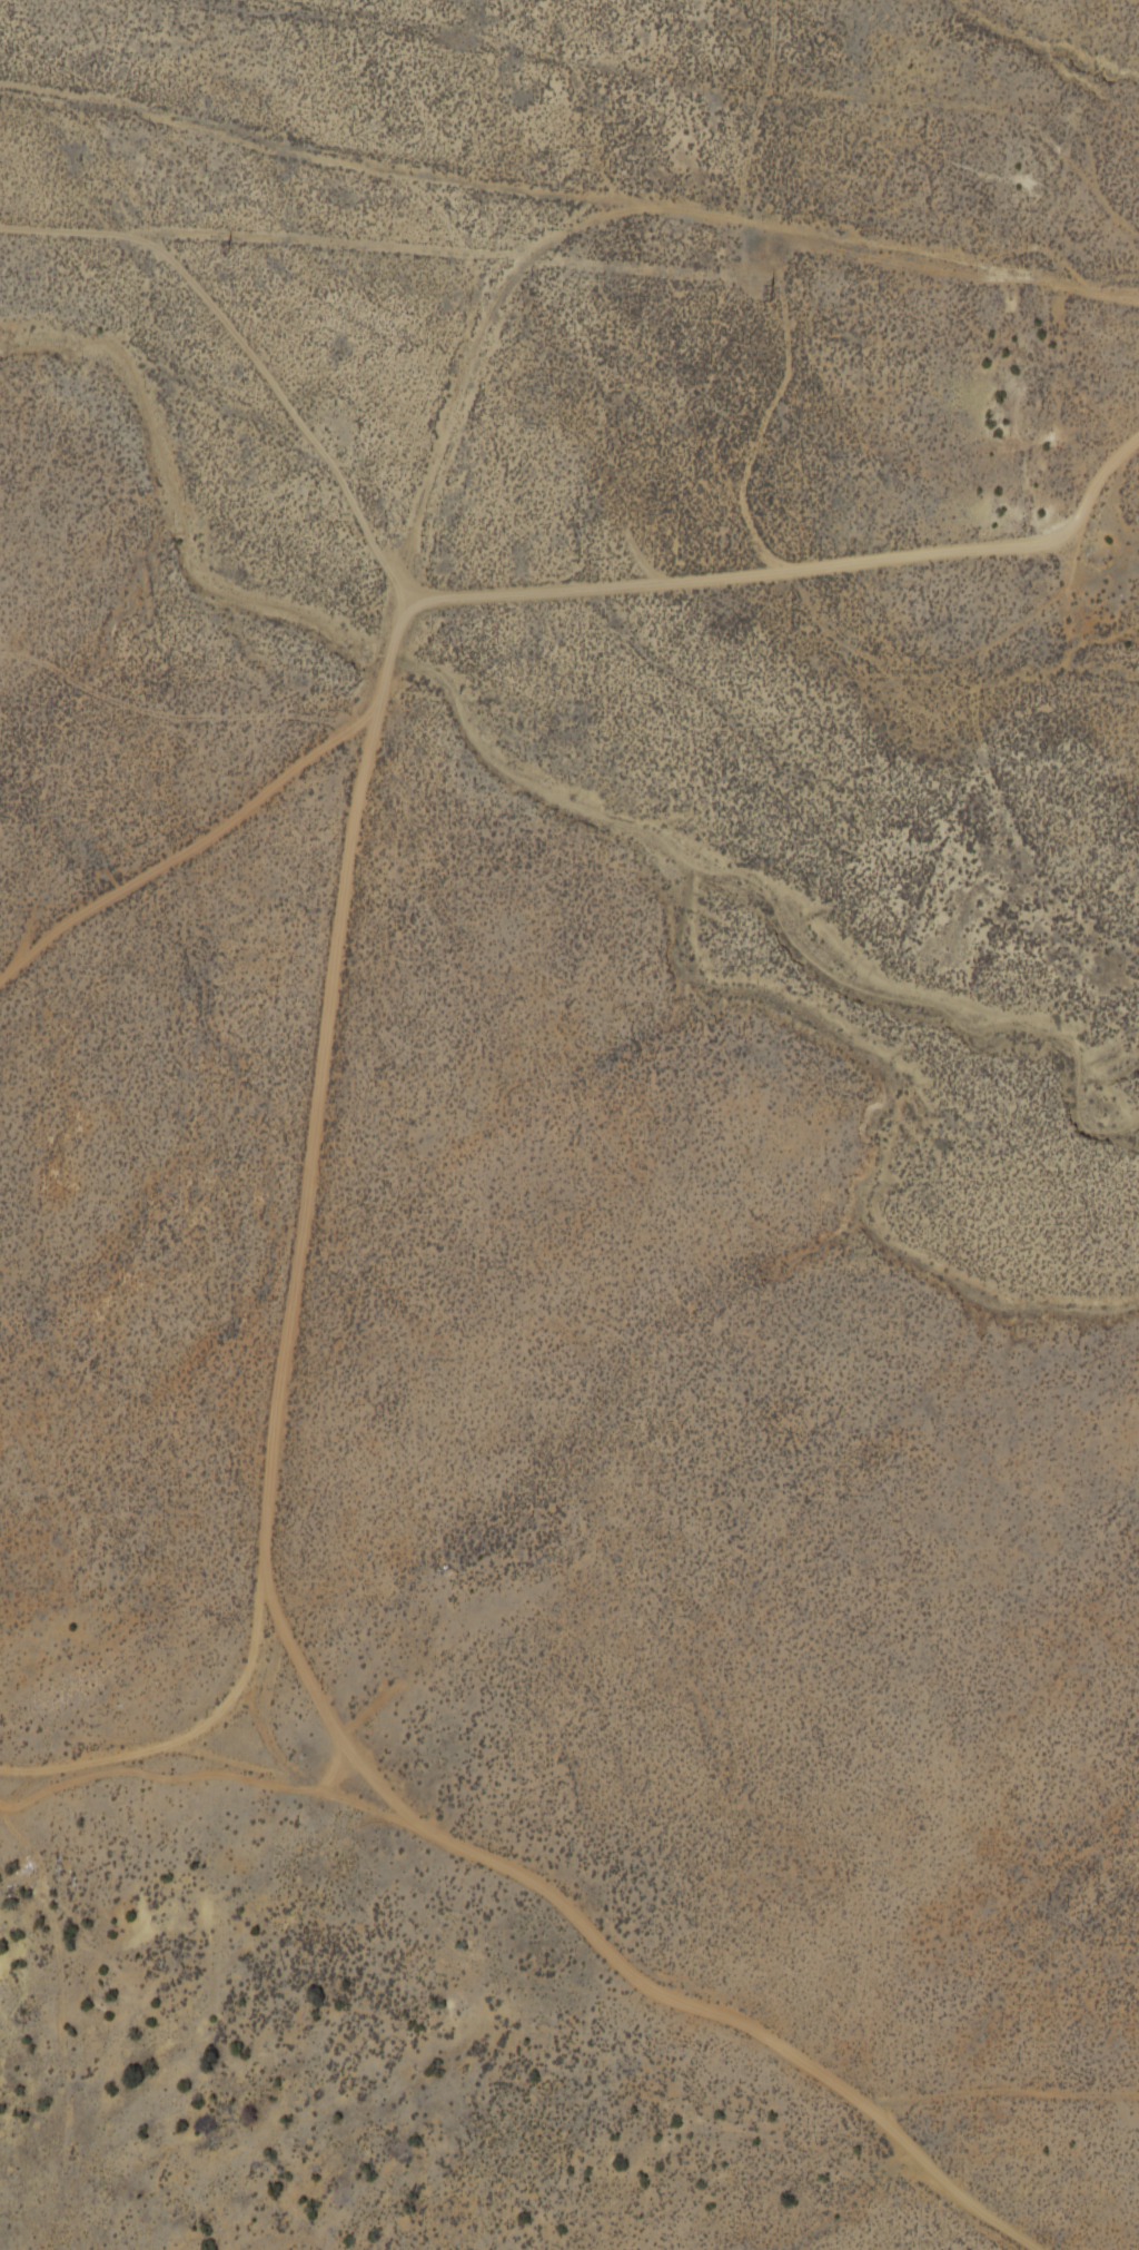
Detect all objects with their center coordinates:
road: (567, 188)
road: (270, 239)
power tower: (218, 253)
power tower: (765, 294)
road: (783, 571)
road: (338, 885)
road: (131, 1750)
road: (672, 1941)

